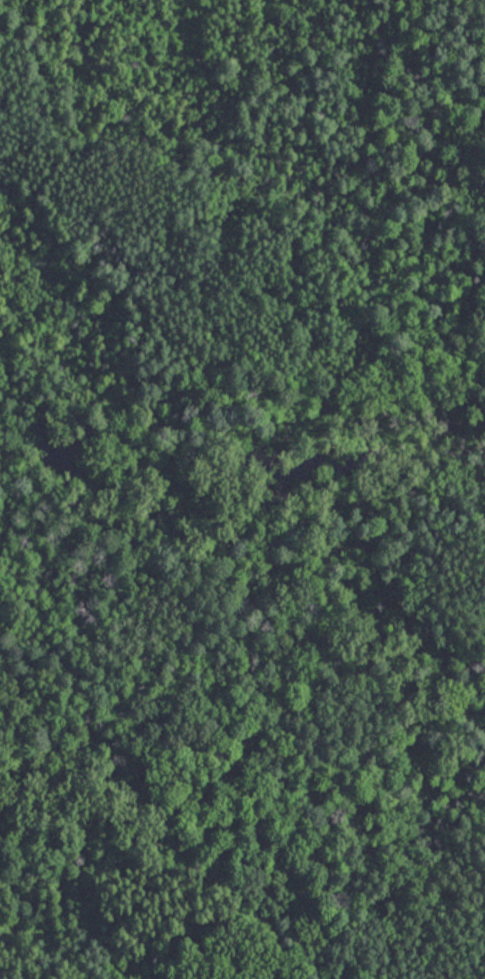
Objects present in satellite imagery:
park: (242, 489)

